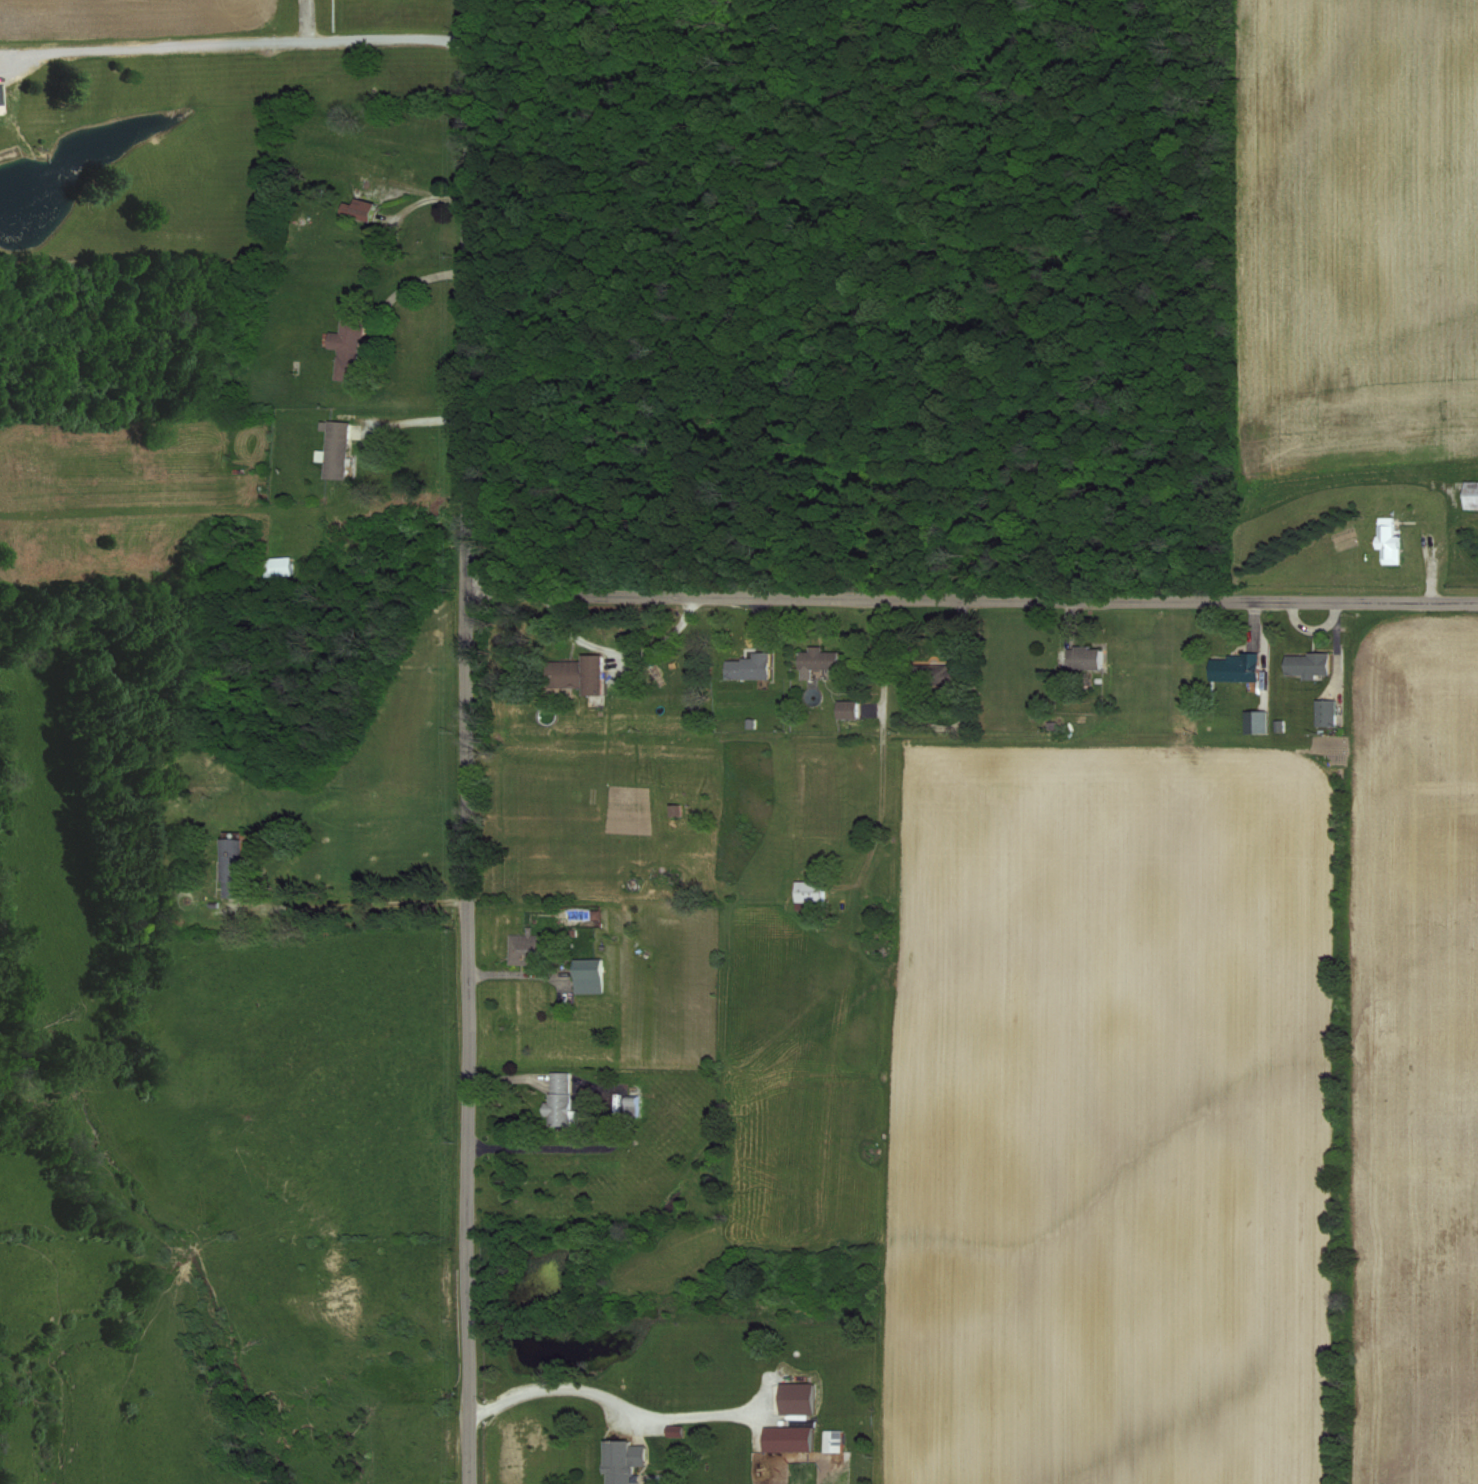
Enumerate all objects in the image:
road: (237, 42)
building: (362, 211)
road: (399, 291)
building: (345, 351)
building: (335, 452)
building: (1471, 497)
building: (1390, 543)
building: (281, 567)
road: (971, 600)
road: (619, 652)
road: (884, 655)
building: (1088, 658)
building: (816, 662)
building: (1306, 665)
building: (748, 668)
building: (1233, 668)
building: (580, 674)
building: (845, 710)
building: (1325, 714)
building: (1255, 722)
road: (465, 741)
building: (230, 871)
building: (809, 892)
road: (357, 904)
building: (521, 951)
road: (516, 976)
building: (588, 977)
road: (545, 1147)
building: (795, 1400)
road: (613, 1403)
building: (787, 1440)
building: (834, 1442)
building: (622, 1461)

